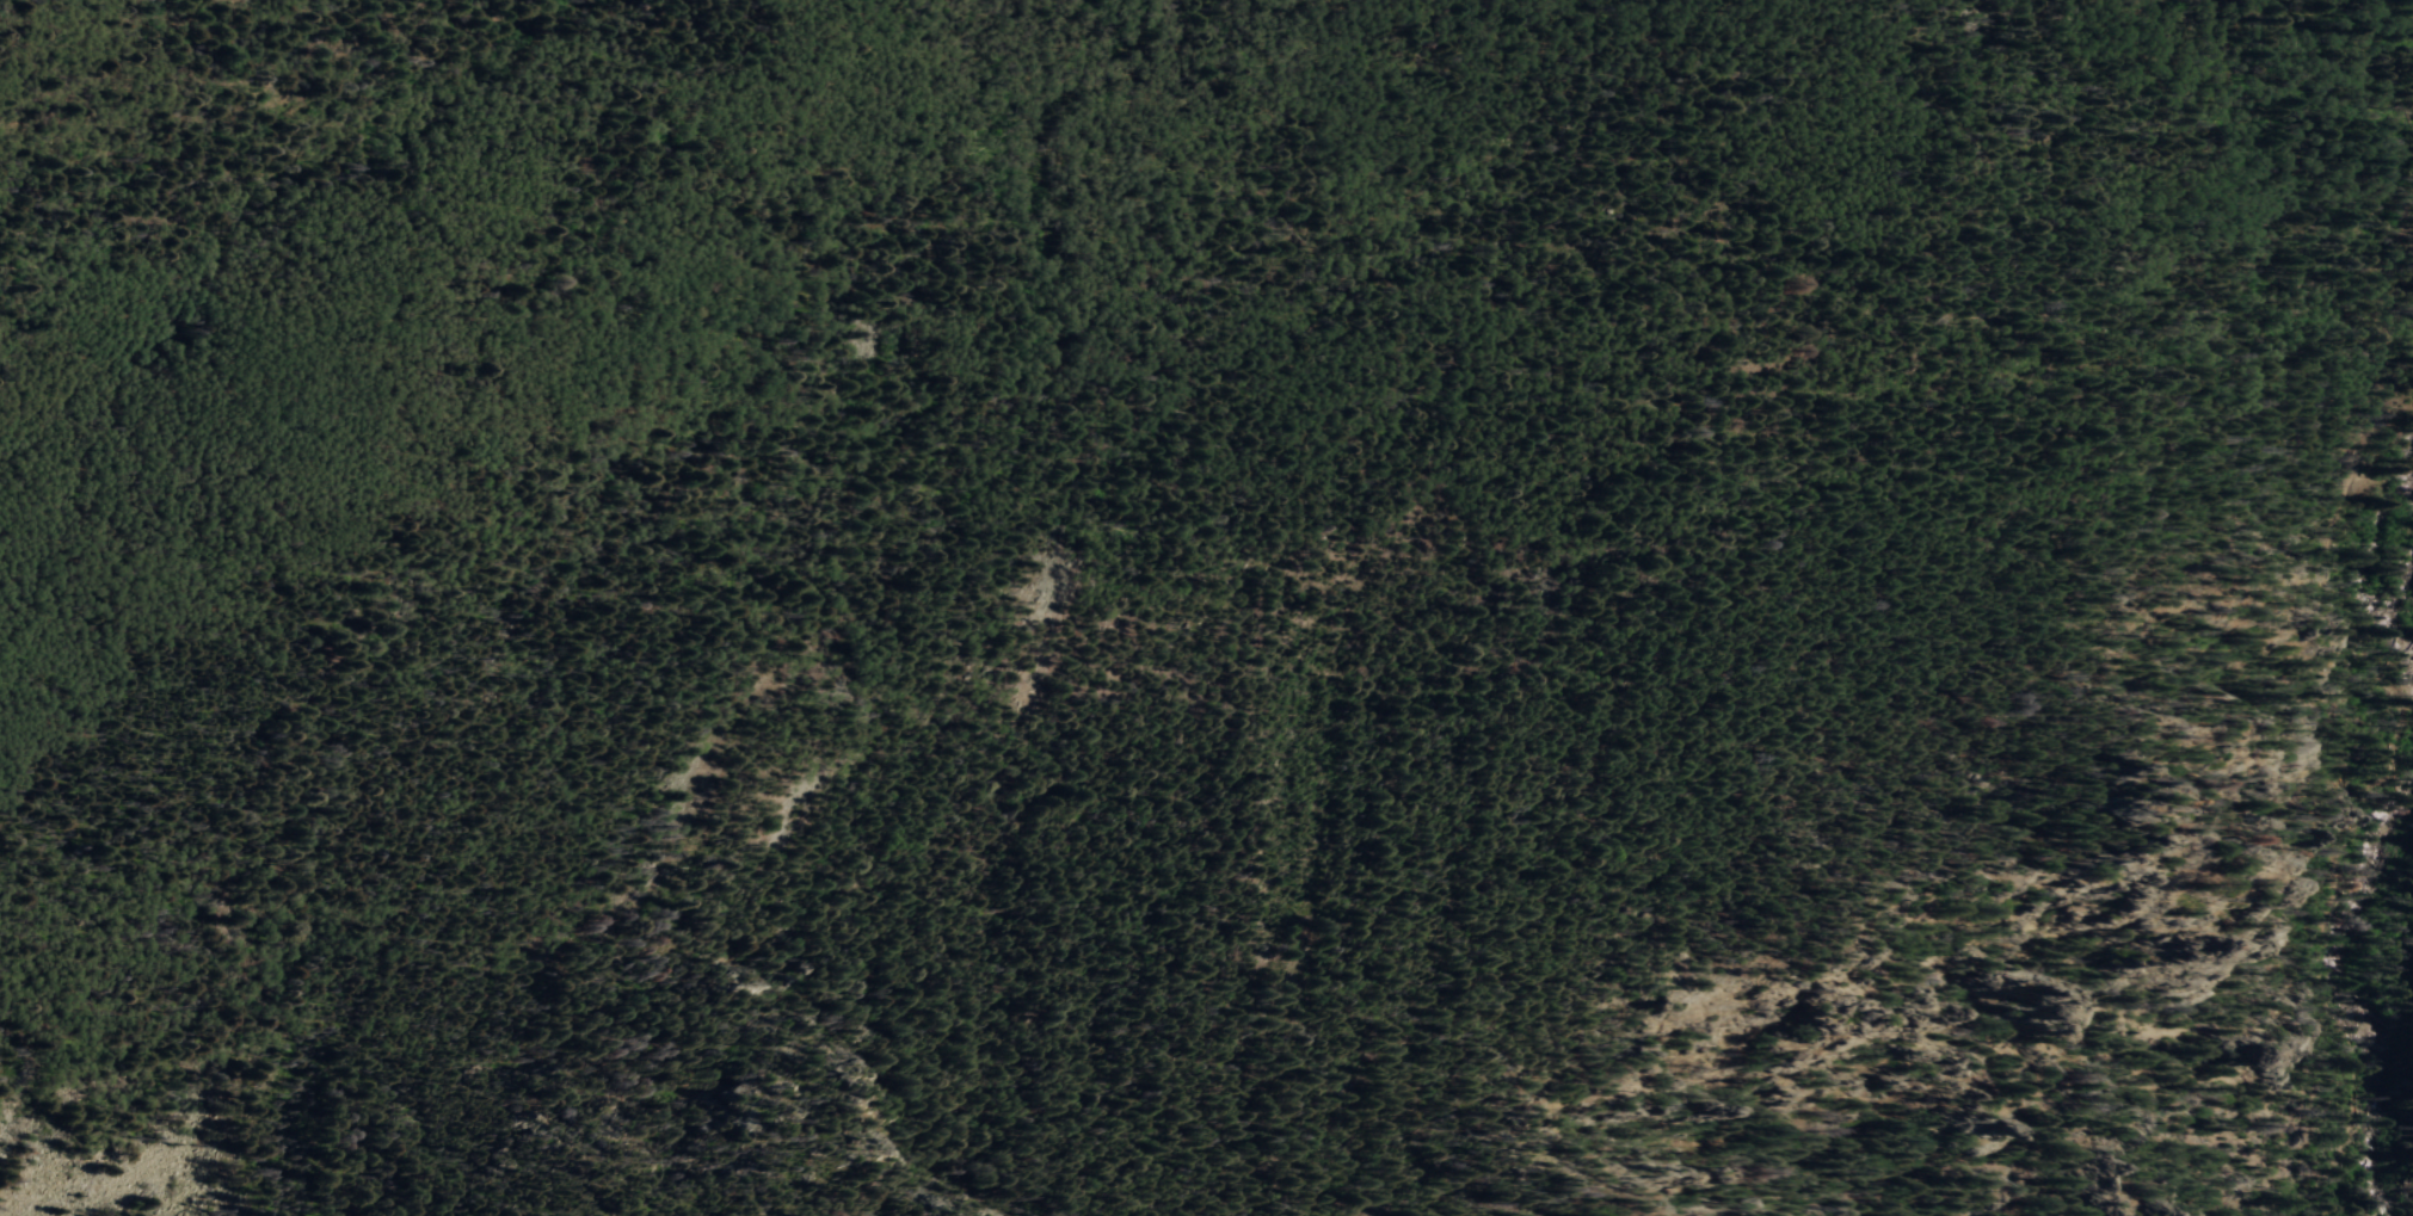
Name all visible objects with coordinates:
road: (2402, 405)
road: (2374, 570)
road: (2396, 959)
road: (2386, 1156)

